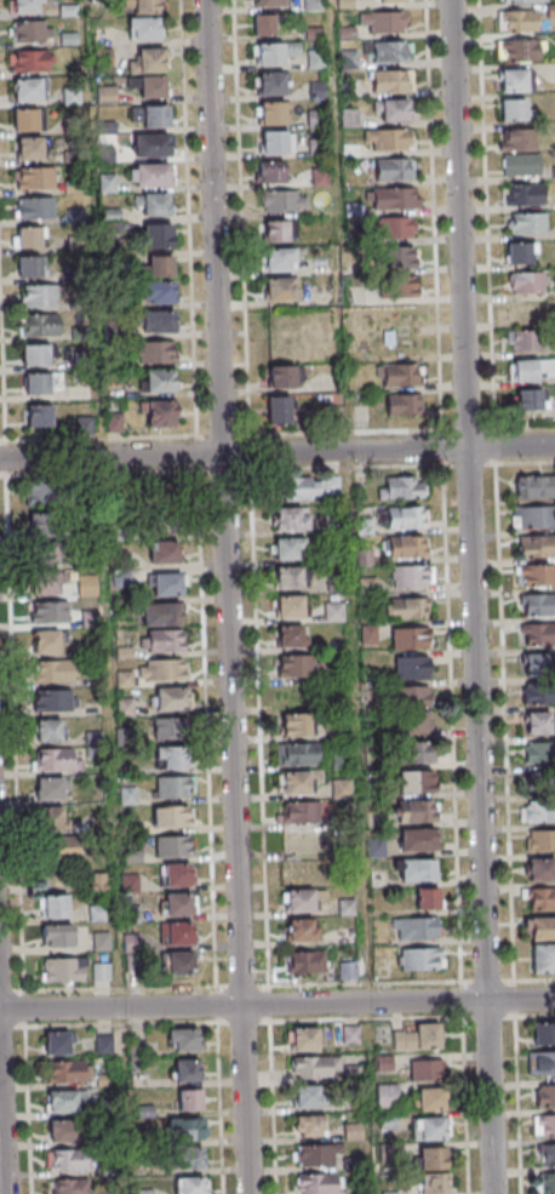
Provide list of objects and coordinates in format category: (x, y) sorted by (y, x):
building: (521, 0)
building: (387, 1)
building: (267, 2)
building: (24, 6)
building: (145, 6)
building: (517, 19)
building: (387, 22)
building: (262, 24)
building: (144, 28)
building: (32, 30)
building: (519, 51)
building: (274, 52)
building: (390, 52)
building: (315, 58)
building: (28, 59)
building: (147, 59)
building: (511, 80)
building: (391, 81)
building: (269, 84)
building: (153, 86)
building: (29, 90)
building: (317, 90)
building: (107, 95)
building: (391, 110)
building: (513, 110)
building: (271, 113)
building: (155, 116)
building: (316, 118)
building: (25, 120)
building: (388, 139)
building: (516, 139)
building: (275, 142)
building: (150, 144)
building: (316, 145)
building: (28, 148)
building: (521, 165)
building: (393, 168)
building: (270, 171)
building: (149, 173)
building: (320, 176)
building: (34, 178)
building: (522, 194)
building: (393, 198)
building: (284, 200)
building: (155, 204)
building: (34, 207)
road: (487, 212)
building: (526, 223)
building: (394, 228)
building: (277, 230)
building: (158, 235)
building: (27, 236)
building: (520, 253)
building: (399, 257)
building: (277, 259)
building: (159, 265)
building: (29, 267)
building: (526, 282)
building: (397, 287)
building: (280, 288)
building: (159, 291)
building: (41, 296)
building: (528, 312)
building: (158, 321)
building: (40, 325)
building: (525, 341)
building: (155, 352)
building: (34, 354)
building: (530, 371)
building: (400, 375)
building: (281, 376)
building: (156, 381)
building: (38, 383)
building: (530, 400)
building: (404, 405)
building: (279, 410)
building: (159, 412)
building: (39, 415)
road: (525, 424)
road: (277, 452)
road: (402, 465)
road: (102, 473)
building: (309, 487)
building: (400, 487)
building: (532, 487)
building: (40, 492)
building: (164, 503)
building: (404, 518)
building: (533, 518)
building: (291, 519)
building: (44, 526)
building: (536, 545)
building: (286, 548)
building: (405, 548)
building: (164, 552)
building: (44, 558)
building: (534, 575)
building: (412, 576)
building: (291, 577)
building: (45, 582)
building: (87, 583)
building: (167, 584)
road: (225, 596)
road: (470, 596)
building: (536, 604)
building: (288, 607)
building: (405, 609)
building: (48, 612)
building: (333, 612)
building: (161, 615)
building: (538, 634)
building: (290, 636)
building: (408, 638)
building: (164, 640)
building: (46, 642)
building: (538, 664)
building: (296, 667)
building: (411, 668)
building: (164, 670)
building: (55, 672)
building: (124, 680)
building: (538, 693)
building: (414, 696)
building: (172, 699)
building: (53, 701)
road: (504, 721)
road: (452, 722)
building: (538, 722)
building: (293, 724)
building: (416, 724)
road: (207, 727)
road: (258, 727)
building: (170, 730)
building: (47, 731)
road: (15, 732)
building: (414, 753)
building: (539, 754)
building: (297, 755)
building: (171, 759)
building: (339, 759)
building: (57, 760)
building: (414, 781)
building: (297, 782)
building: (539, 782)
building: (172, 787)
building: (342, 789)
building: (50, 790)
building: (413, 811)
building: (539, 811)
building: (299, 812)
building: (172, 816)
building: (52, 818)
building: (417, 840)
building: (302, 841)
building: (540, 841)
building: (173, 846)
building: (63, 847)
building: (417, 869)
building: (299, 870)
building: (539, 870)
building: (176, 875)
building: (98, 882)
building: (427, 898)
building: (540, 899)
building: (298, 901)
building: (177, 903)
building: (55, 906)
building: (347, 907)
building: (416, 929)
building: (540, 929)
building: (301, 930)
building: (177, 932)
building: (58, 935)
building: (101, 941)
building: (543, 958)
building: (419, 959)
building: (305, 961)
building: (179, 964)
building: (348, 969)
building: (64, 970)
building: (102, 971)
road: (534, 979)
road: (364, 983)
road: (120, 987)
road: (276, 1005)
road: (534, 1016)
building: (543, 1034)
building: (416, 1036)
building: (183, 1039)
building: (304, 1039)
building: (56, 1044)
building: (104, 1044)
building: (383, 1063)
building: (542, 1063)
building: (310, 1067)
building: (427, 1069)
building: (187, 1070)
building: (67, 1072)
building: (544, 1095)
building: (308, 1097)
building: (387, 1097)
building: (190, 1099)
building: (431, 1099)
building: (63, 1101)
road: (517, 1104)
building: (544, 1125)
building: (309, 1126)
building: (185, 1129)
building: (430, 1129)
building: (62, 1131)
building: (353, 1132)
road: (1, 1144)
building: (545, 1154)
building: (314, 1155)
building: (189, 1158)
building: (433, 1158)
building: (68, 1160)
building: (435, 1183)
building: (548, 1183)
building: (190, 1184)
building: (315, 1184)
building: (69, 1187)

